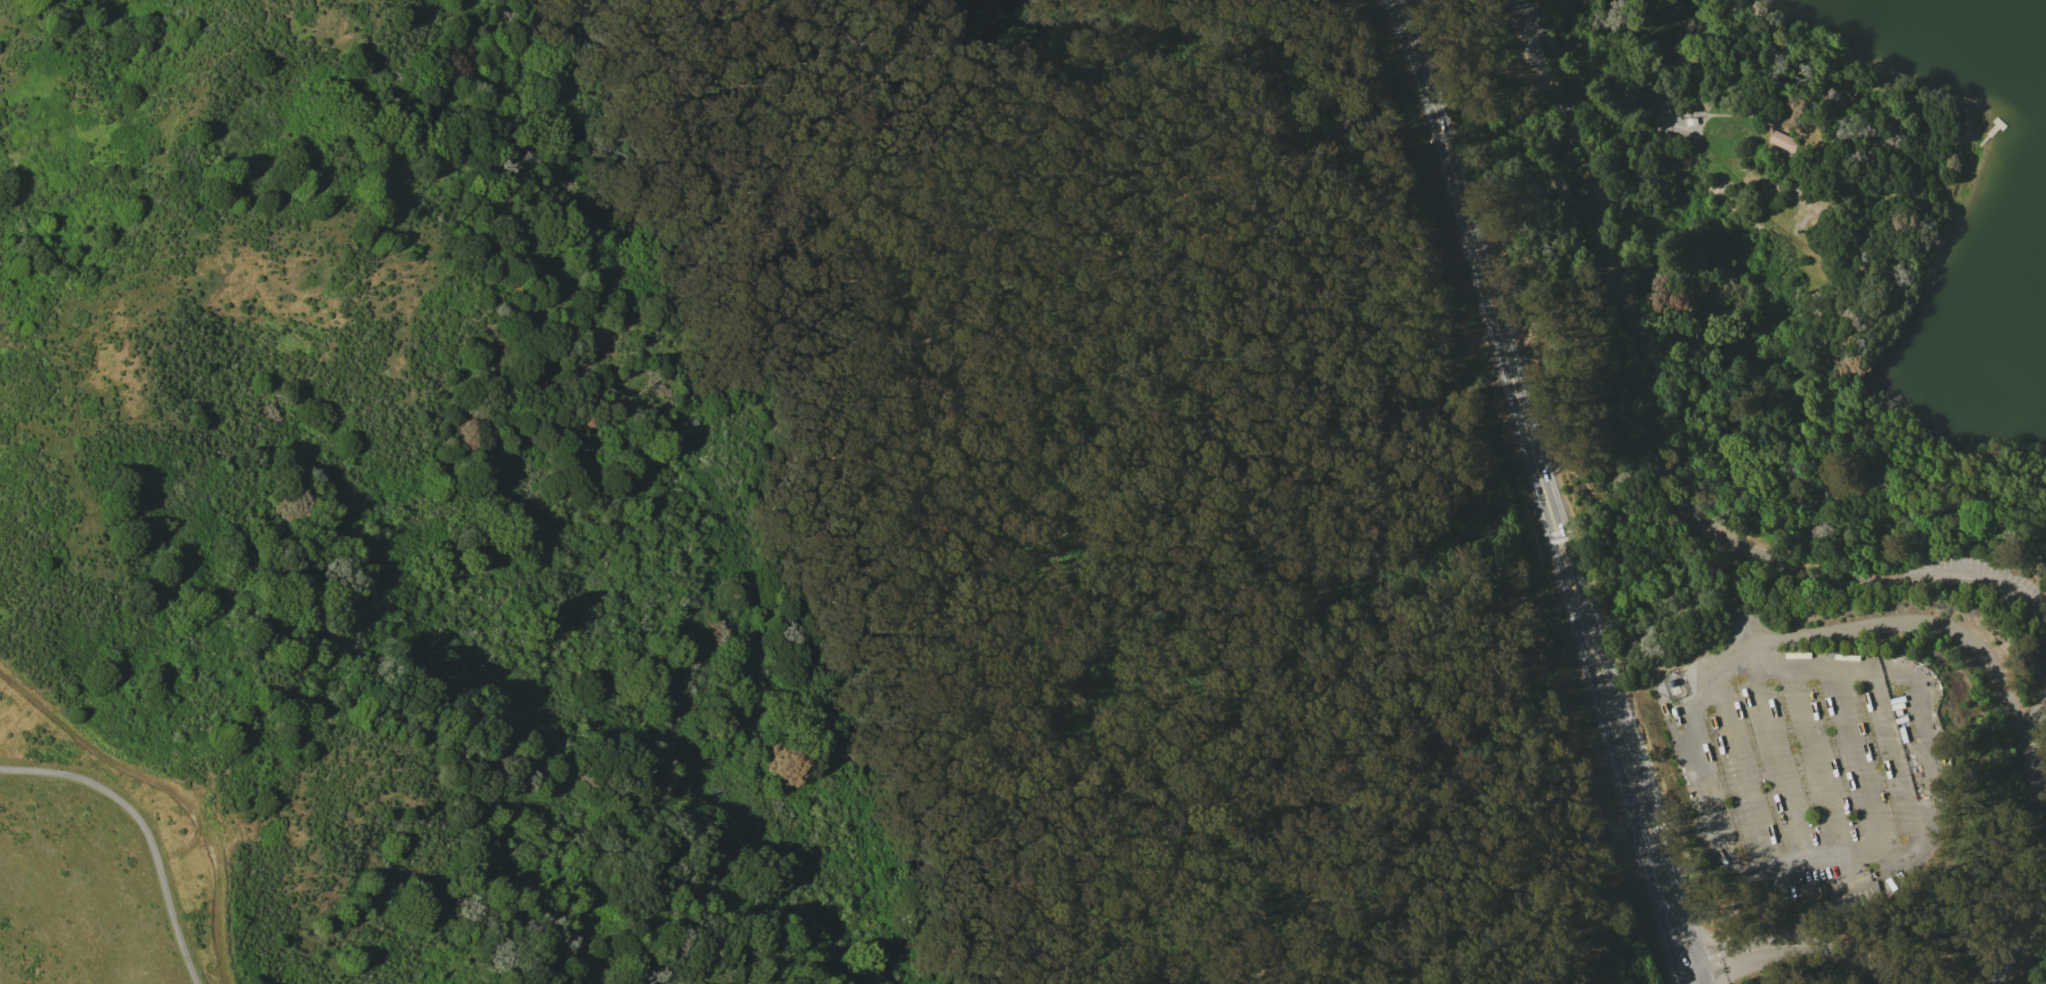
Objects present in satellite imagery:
road: (1596, 74)
building: (1783, 141)
road: (1599, 246)
road: (1028, 482)
road: (1547, 490)
road: (1866, 579)
parking lot: (2029, 588)
road: (1448, 676)
road: (1932, 746)
road: (1863, 763)
road: (1817, 767)
road: (1736, 770)
road: (1780, 770)
parking lot: (1813, 783)
road: (171, 793)
road: (1714, 826)
road: (142, 831)
road: (2034, 839)
building: (1810, 891)
road: (1793, 948)

